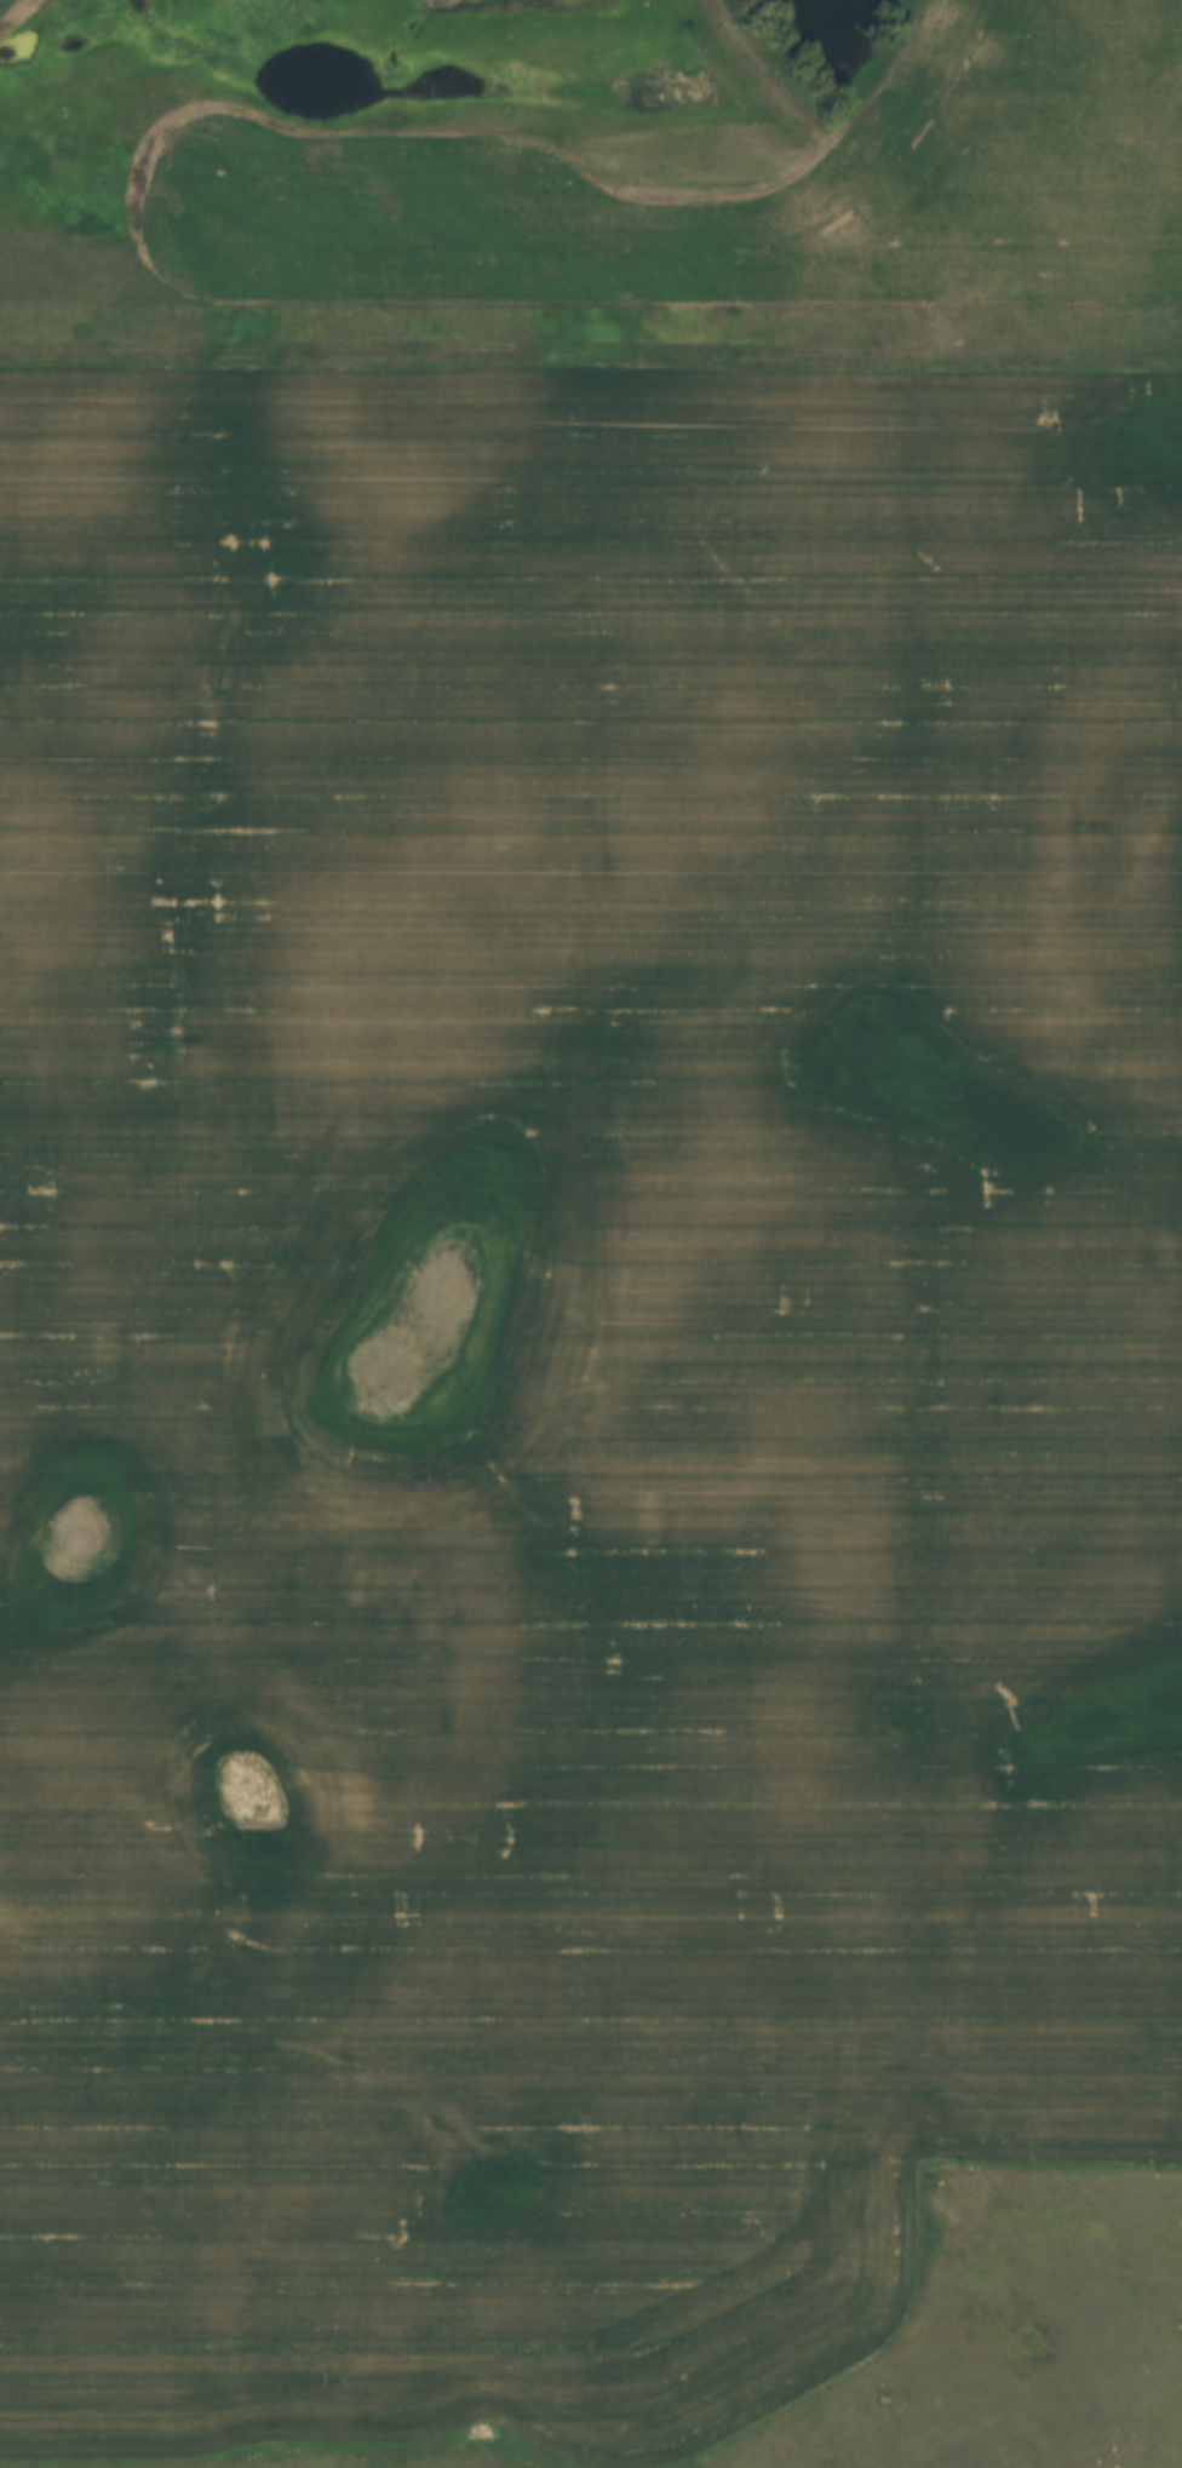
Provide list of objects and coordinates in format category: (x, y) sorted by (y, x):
dam: (793, 63)
road: (590, 362)

